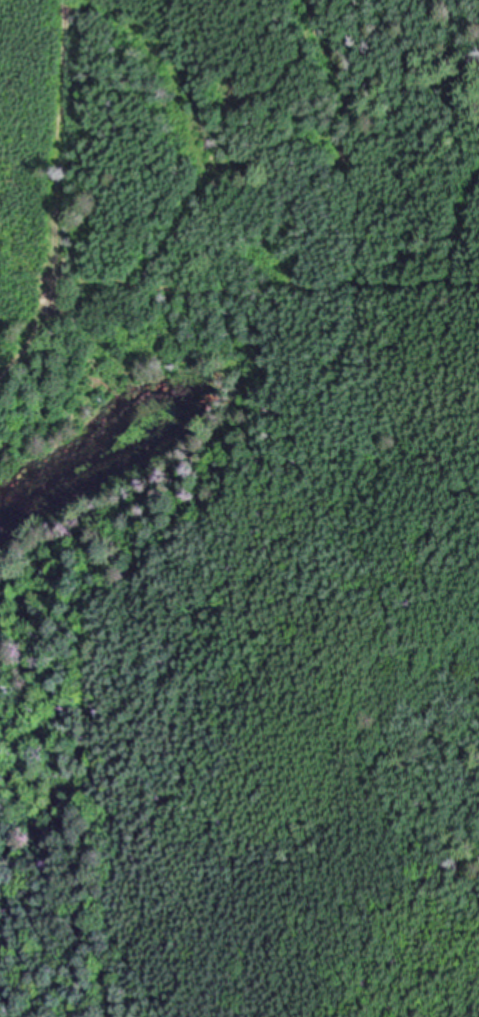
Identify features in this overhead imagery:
road: (187, 232)

